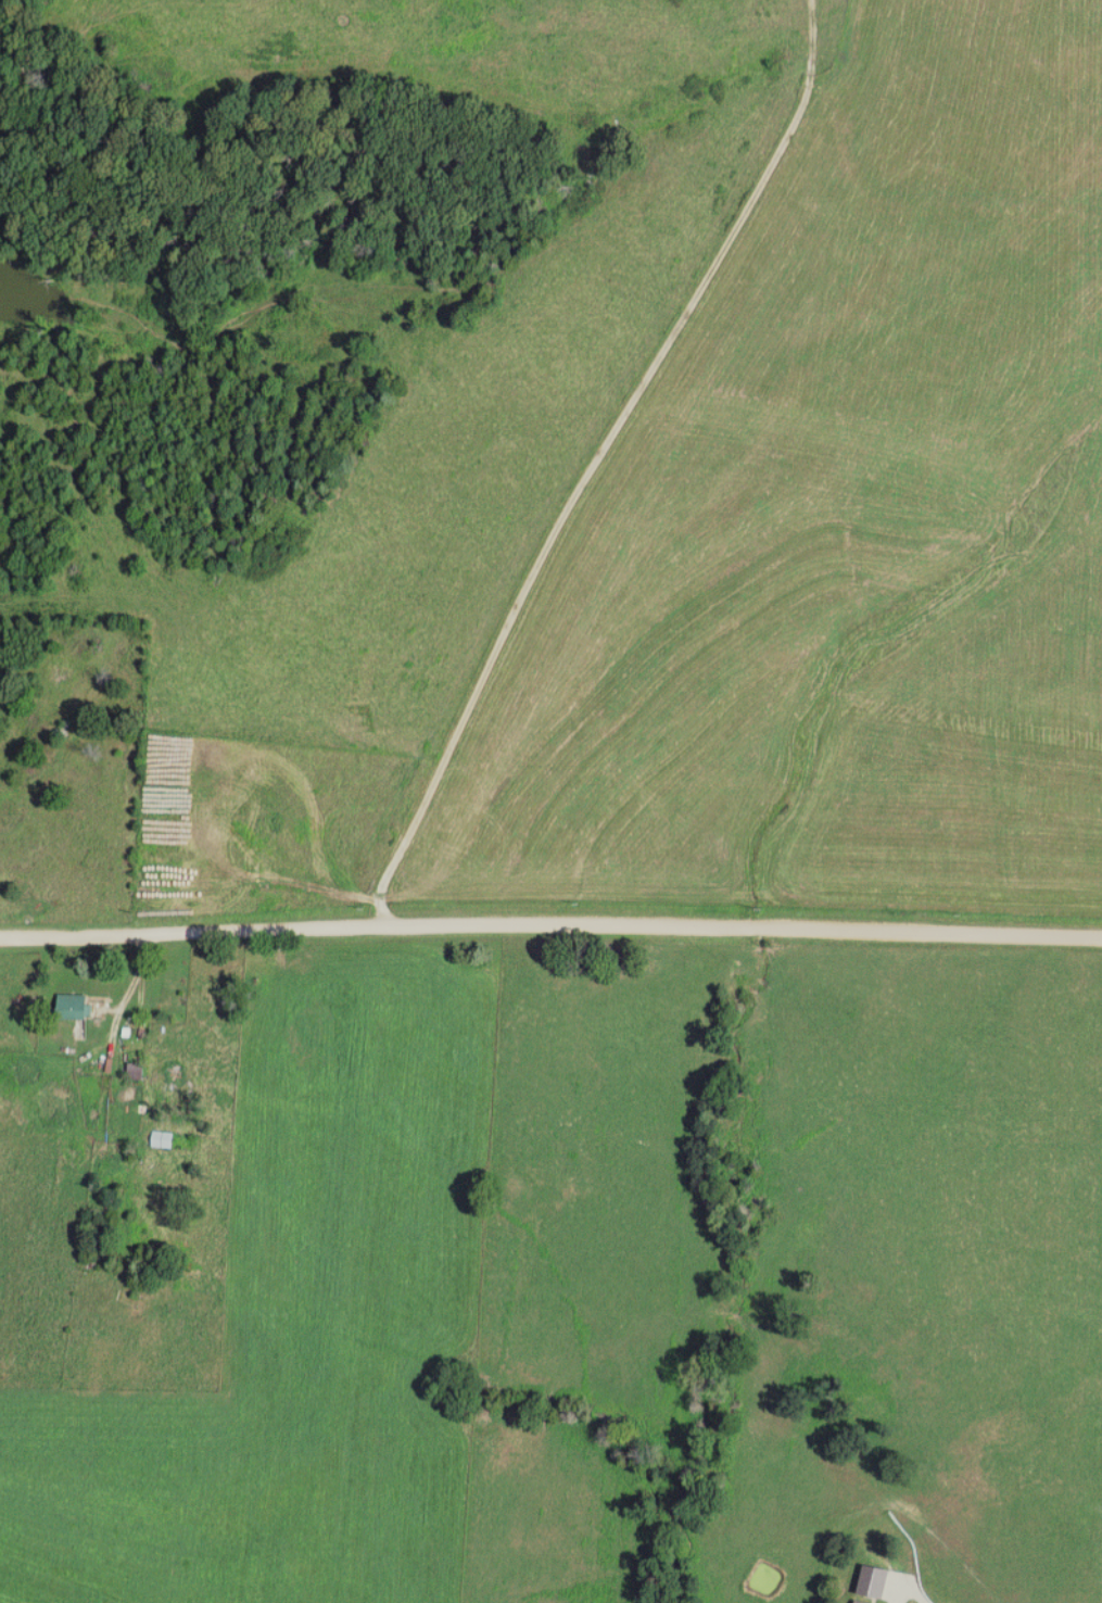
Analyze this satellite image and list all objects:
road: (585, 475)
road: (550, 939)
building: (75, 1009)
building: (175, 1073)
building: (163, 1139)
building: (872, 1585)

